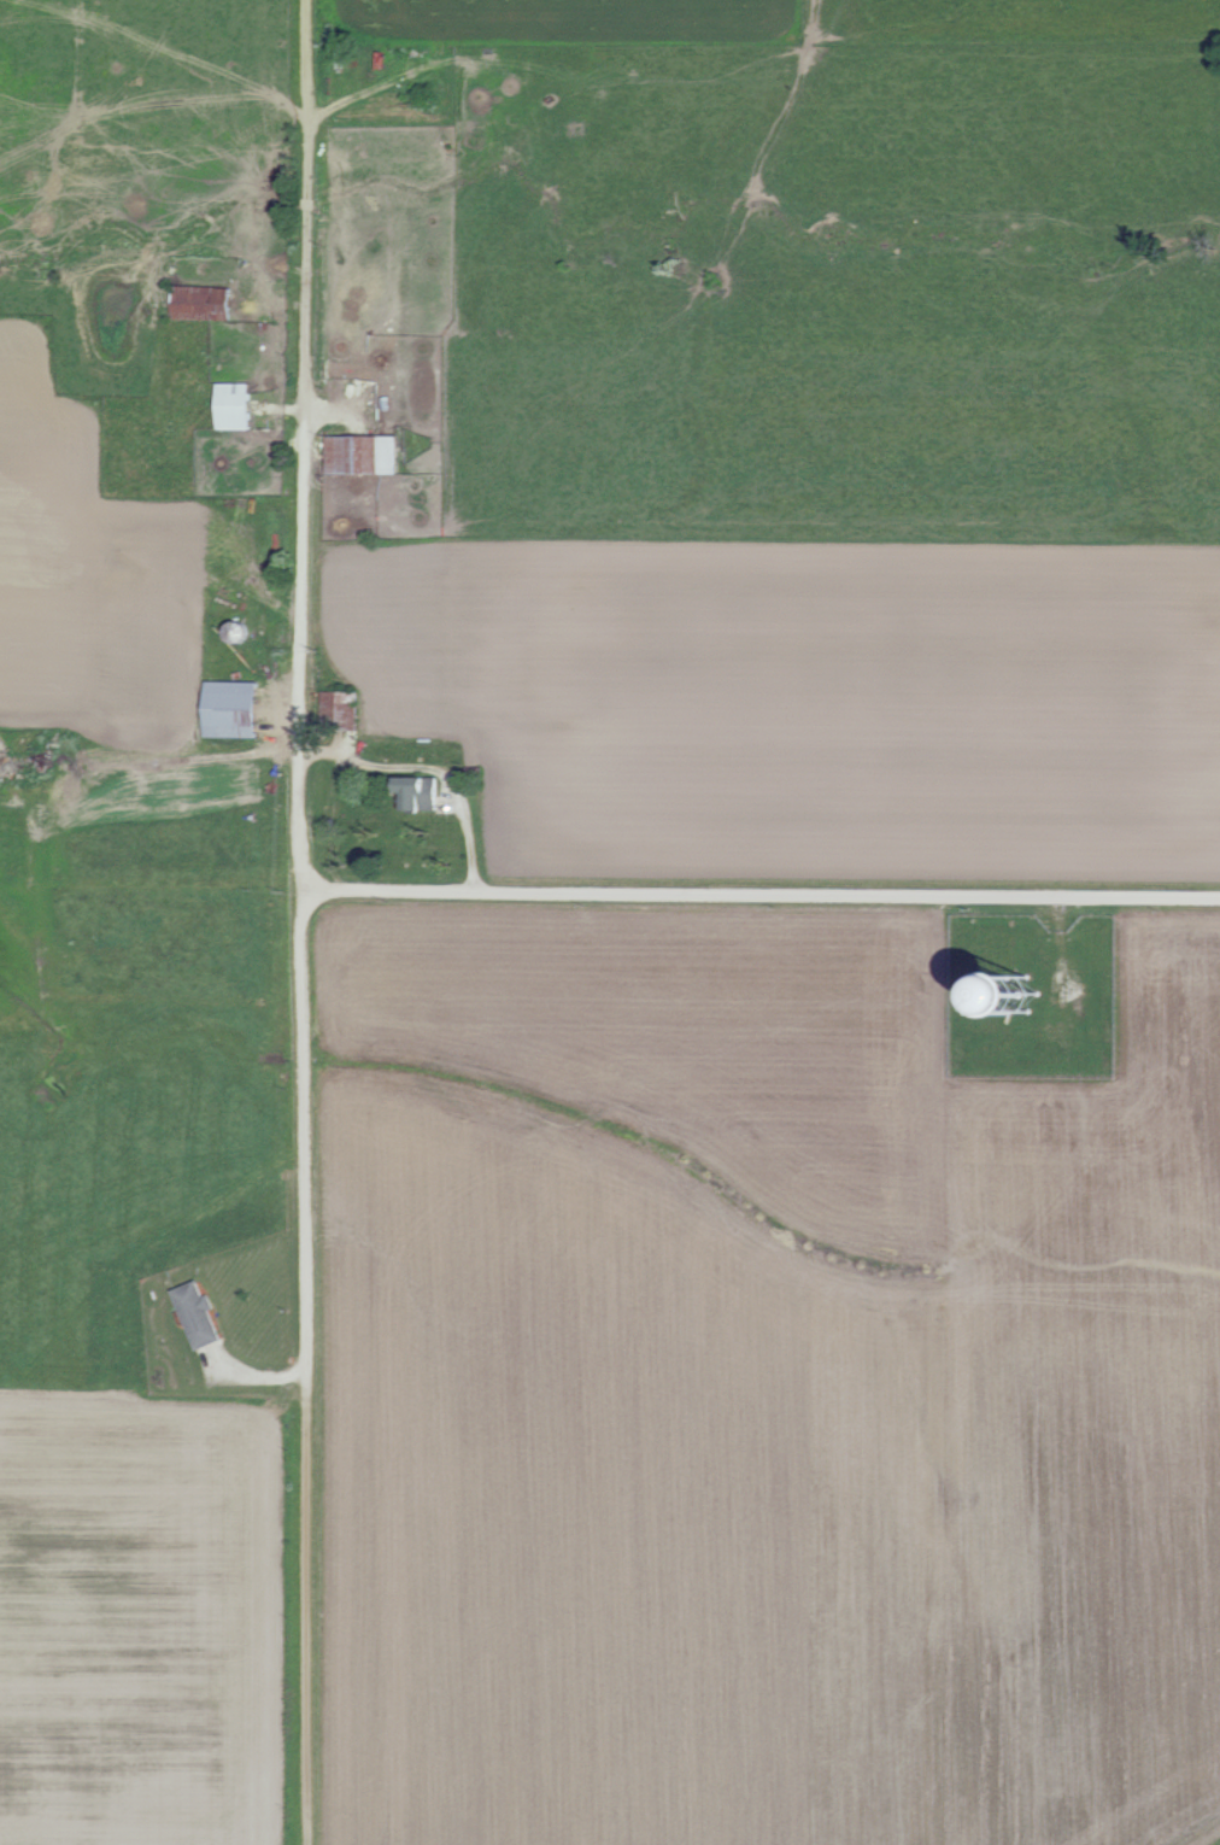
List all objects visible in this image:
building: (204, 303)
building: (237, 405)
building: (364, 455)
building: (237, 708)
building: (342, 709)
road: (194, 765)
building: (424, 791)
road: (301, 871)
road: (761, 895)
building: (201, 1313)
road: (309, 1793)

